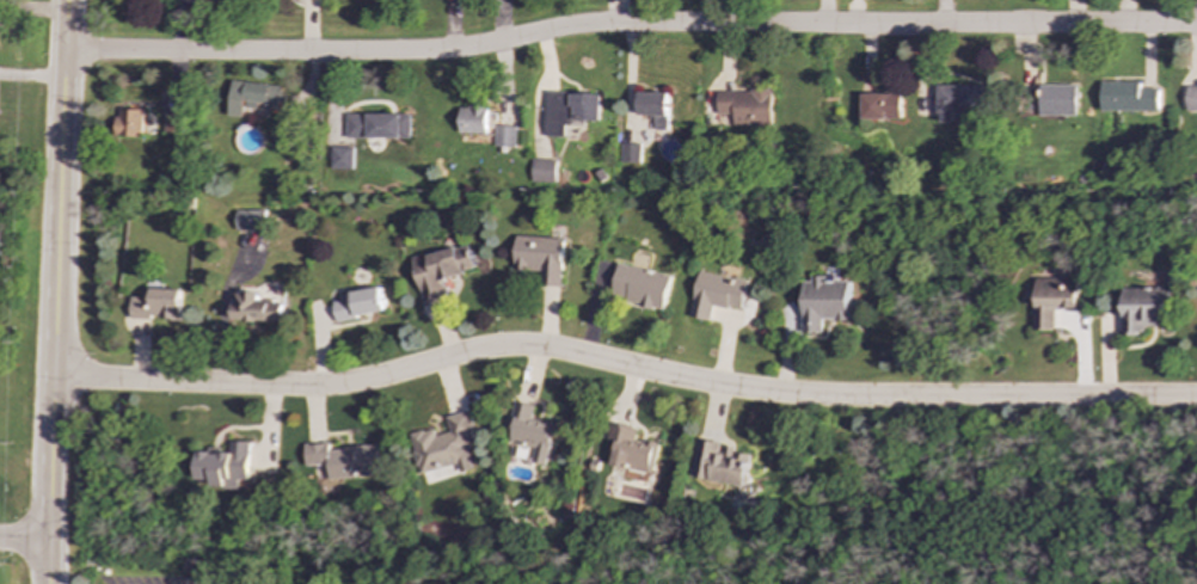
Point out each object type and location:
road: (628, 24)
road: (32, 74)
building: (251, 97)
building: (1128, 97)
building: (1192, 97)
building: (963, 99)
building: (1058, 99)
building: (747, 106)
building: (879, 106)
building: (655, 107)
building: (569, 110)
building: (472, 118)
building: (173, 121)
building: (129, 123)
building: (377, 125)
building: (283, 134)
building: (505, 136)
building: (630, 152)
building: (342, 158)
building: (542, 170)
building: (250, 219)
building: (539, 257)
building: (441, 269)
building: (640, 285)
road: (56, 291)
building: (716, 294)
building: (1052, 299)
building: (823, 302)
building: (358, 303)
building: (155, 305)
building: (1142, 308)
building: (256, 309)
road: (622, 364)
building: (529, 431)
building: (444, 445)
building: (631, 449)
building: (719, 463)
building: (227, 465)
road: (25, 541)

